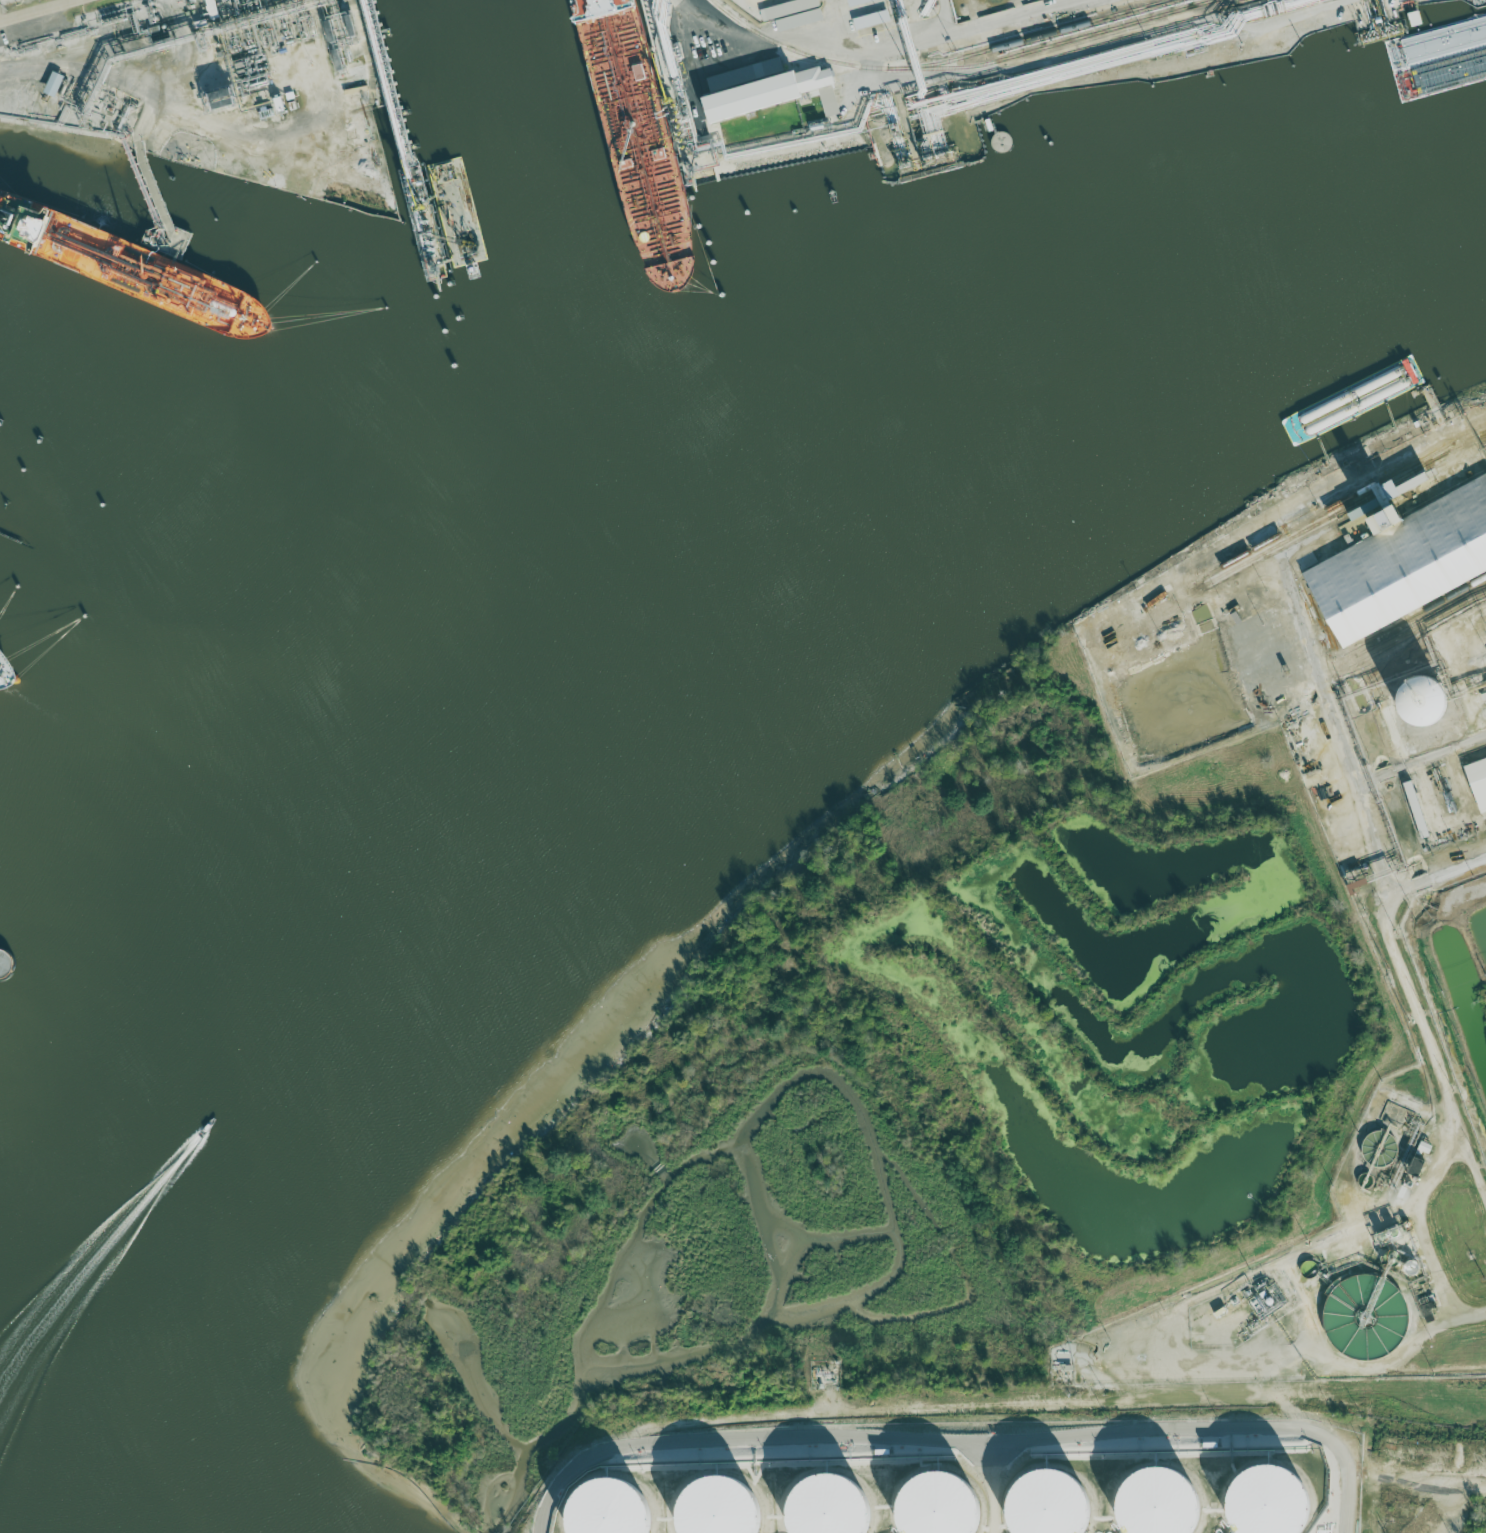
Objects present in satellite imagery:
building: (993, 3)
building: (787, 8)
road: (39, 11)
building: (798, 19)
building: (871, 19)
railway: (1053, 45)
railway: (937, 63)
building: (53, 84)
building: (774, 94)
railway: (1455, 449)
railway: (1340, 503)
railway: (1345, 509)
building: (1404, 563)
river: (624, 580)
railway: (1420, 611)
railway: (1422, 619)
railway: (1424, 627)
road: (1270, 673)
building: (1426, 703)
building: (1478, 782)
road: (1439, 882)
building: (1359, 887)
pier: (2, 974)
river: (48, 1062)
road: (1476, 1179)
road: (1429, 1241)
road: (1231, 1284)
building: (1361, 1325)
storage tank: (1361, 1325)
road: (1224, 1400)
road: (1392, 1419)
road: (901, 1439)
building: (1264, 1504)
storage tank: (1264, 1504)
building: (1154, 1505)
storage tank: (1154, 1505)
building: (1048, 1506)
storage tank: (1048, 1506)
road: (1344, 1508)
building: (826, 1509)
storage tank: (826, 1509)
building: (935, 1509)
storage tank: (935, 1509)
building: (715, 1510)
storage tank: (715, 1510)
building: (603, 1511)
storage tank: (603, 1511)

